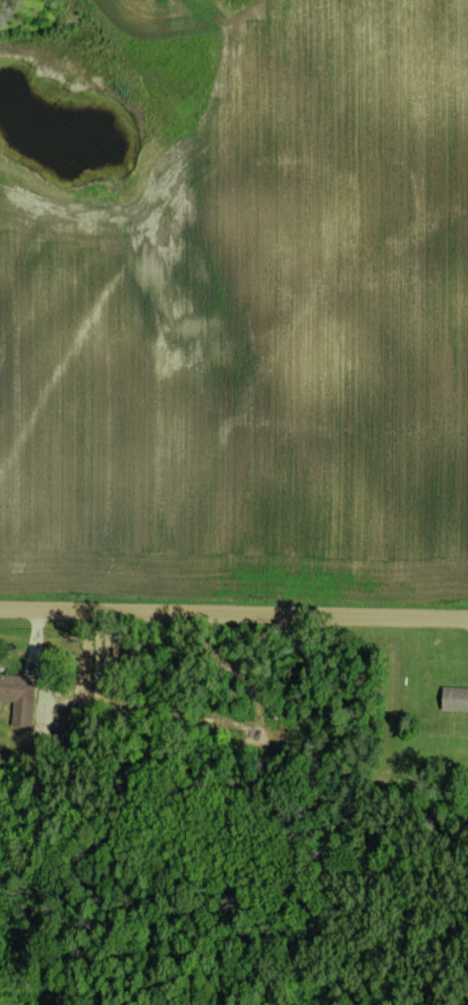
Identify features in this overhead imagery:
road: (234, 612)
building: (19, 697)
building: (453, 697)

